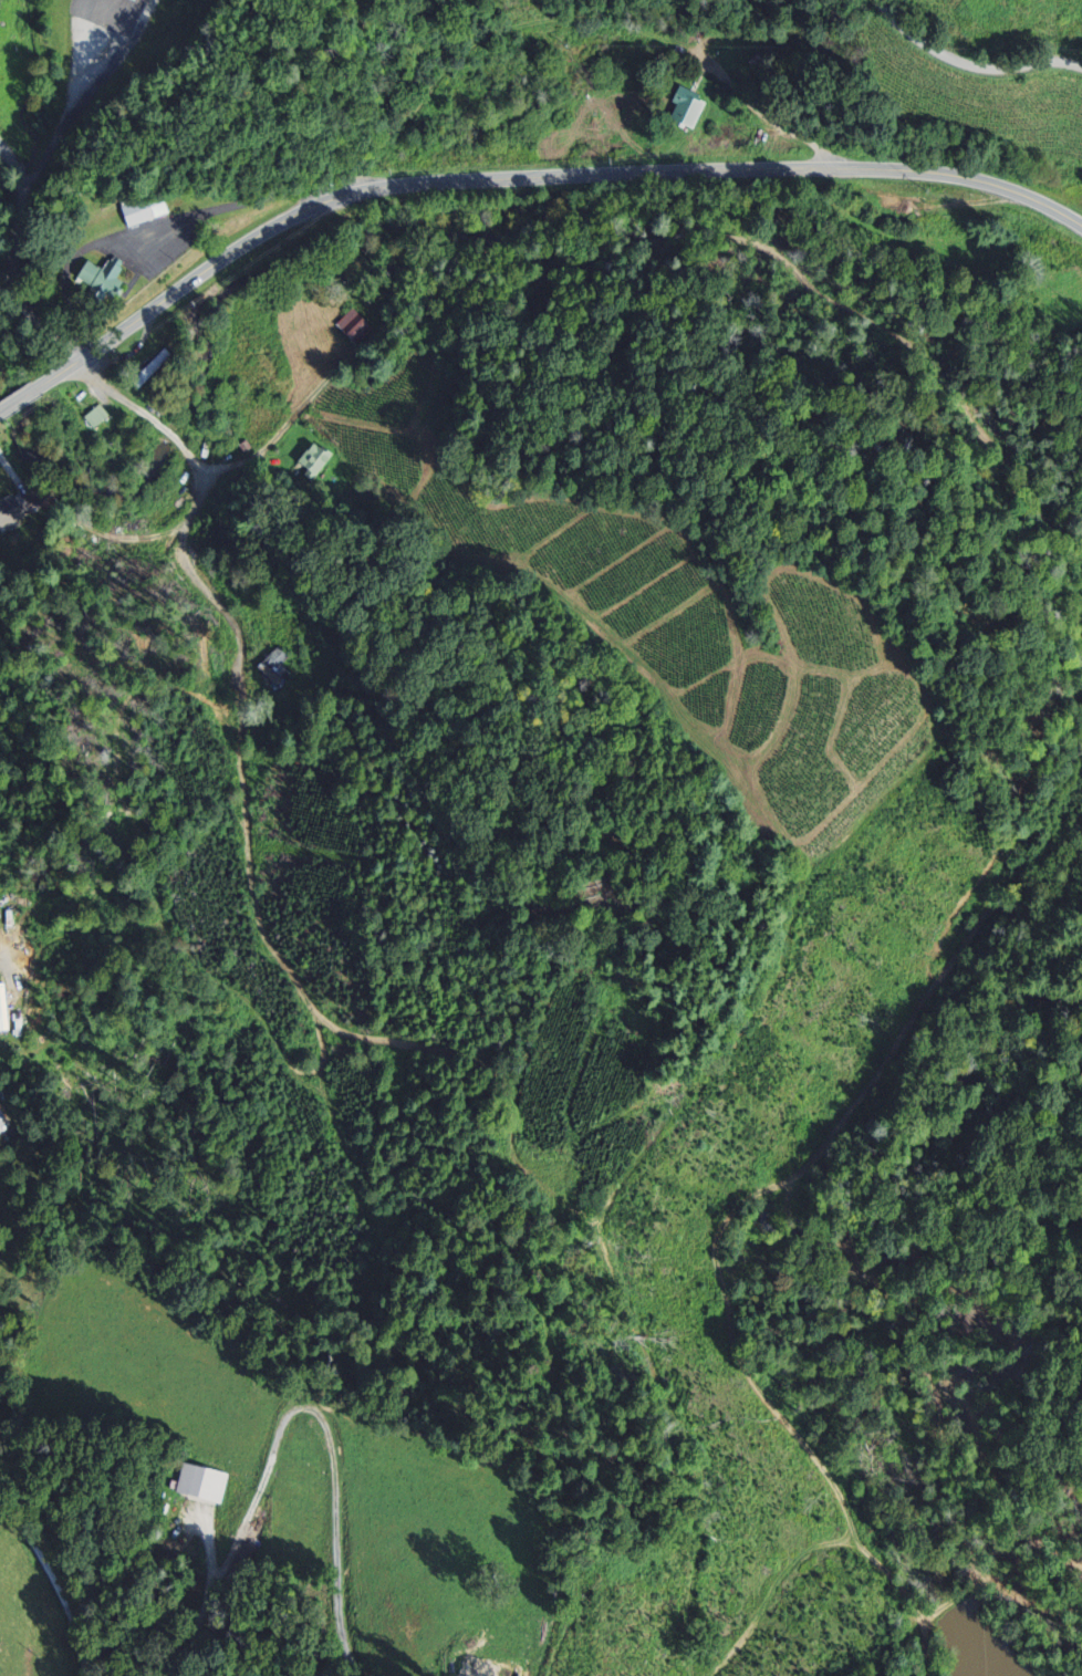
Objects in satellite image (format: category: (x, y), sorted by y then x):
road: (969, 62)
building: (694, 108)
road: (766, 117)
road: (9, 156)
road: (19, 175)
road: (534, 178)
building: (147, 210)
building: (106, 280)
road: (14, 284)
building: (356, 327)
road: (18, 403)
building: (96, 418)
building: (318, 461)
road: (199, 493)
building: (15, 511)
building: (274, 676)
building: (3, 1120)
building: (197, 1479)
road: (335, 1490)
road: (219, 1582)
building: (31, 1584)
road: (56, 1584)

